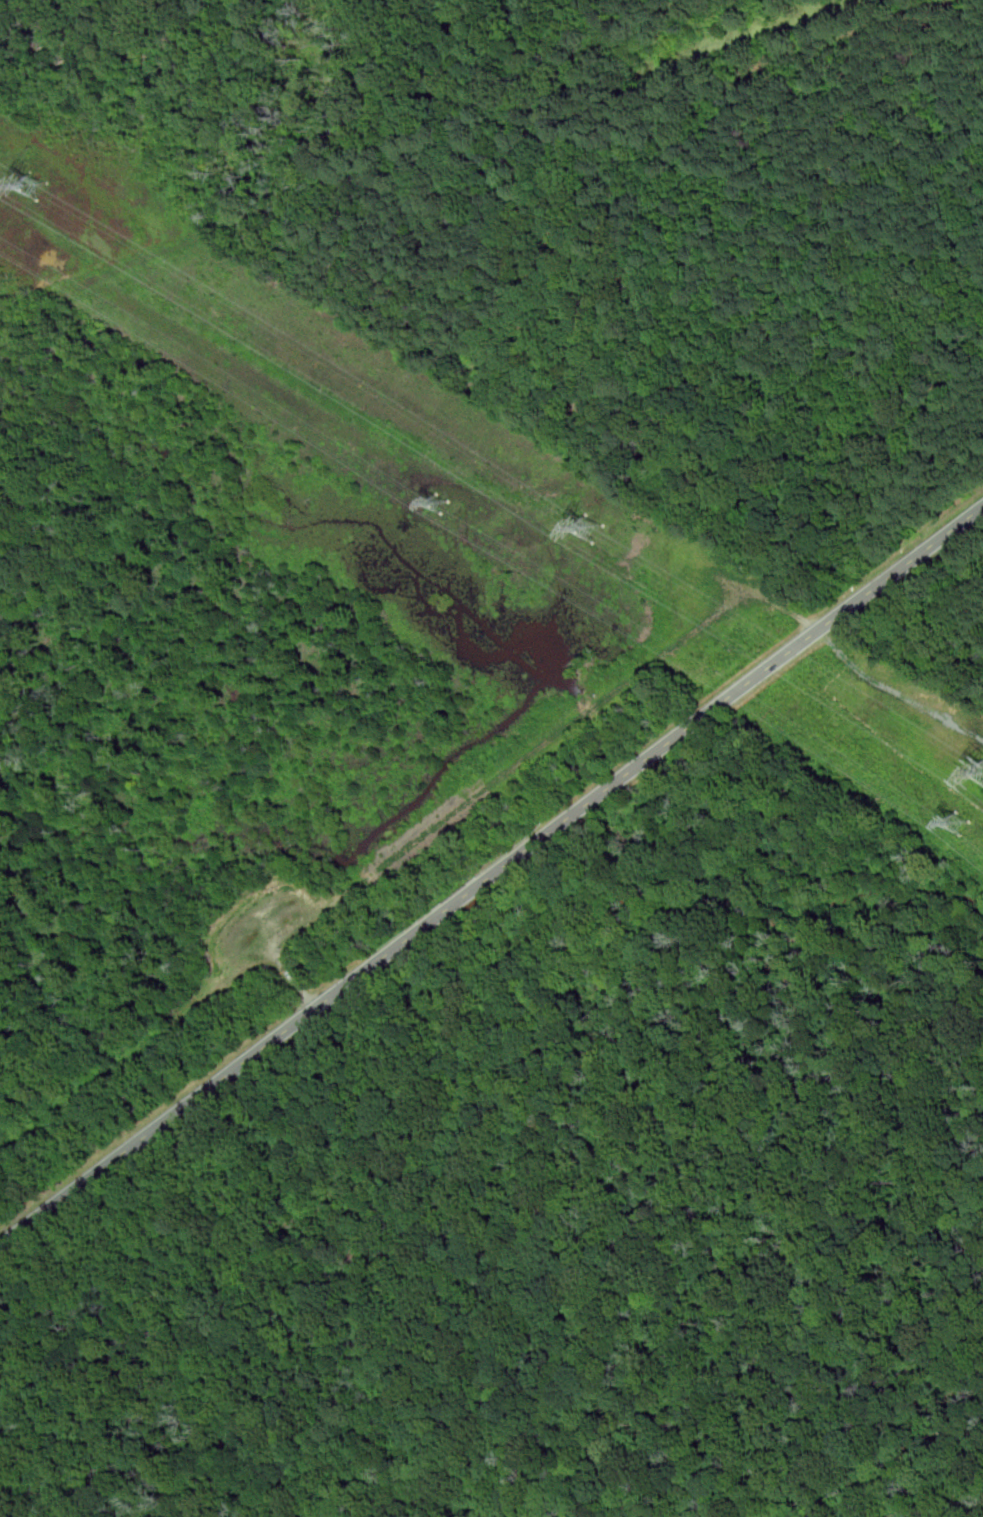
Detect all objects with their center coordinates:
power tower: (36, 189)
power tower: (435, 503)
power tower: (593, 528)
road: (735, 691)
park: (231, 693)
power tower: (954, 826)
road: (465, 895)
road: (220, 1079)

